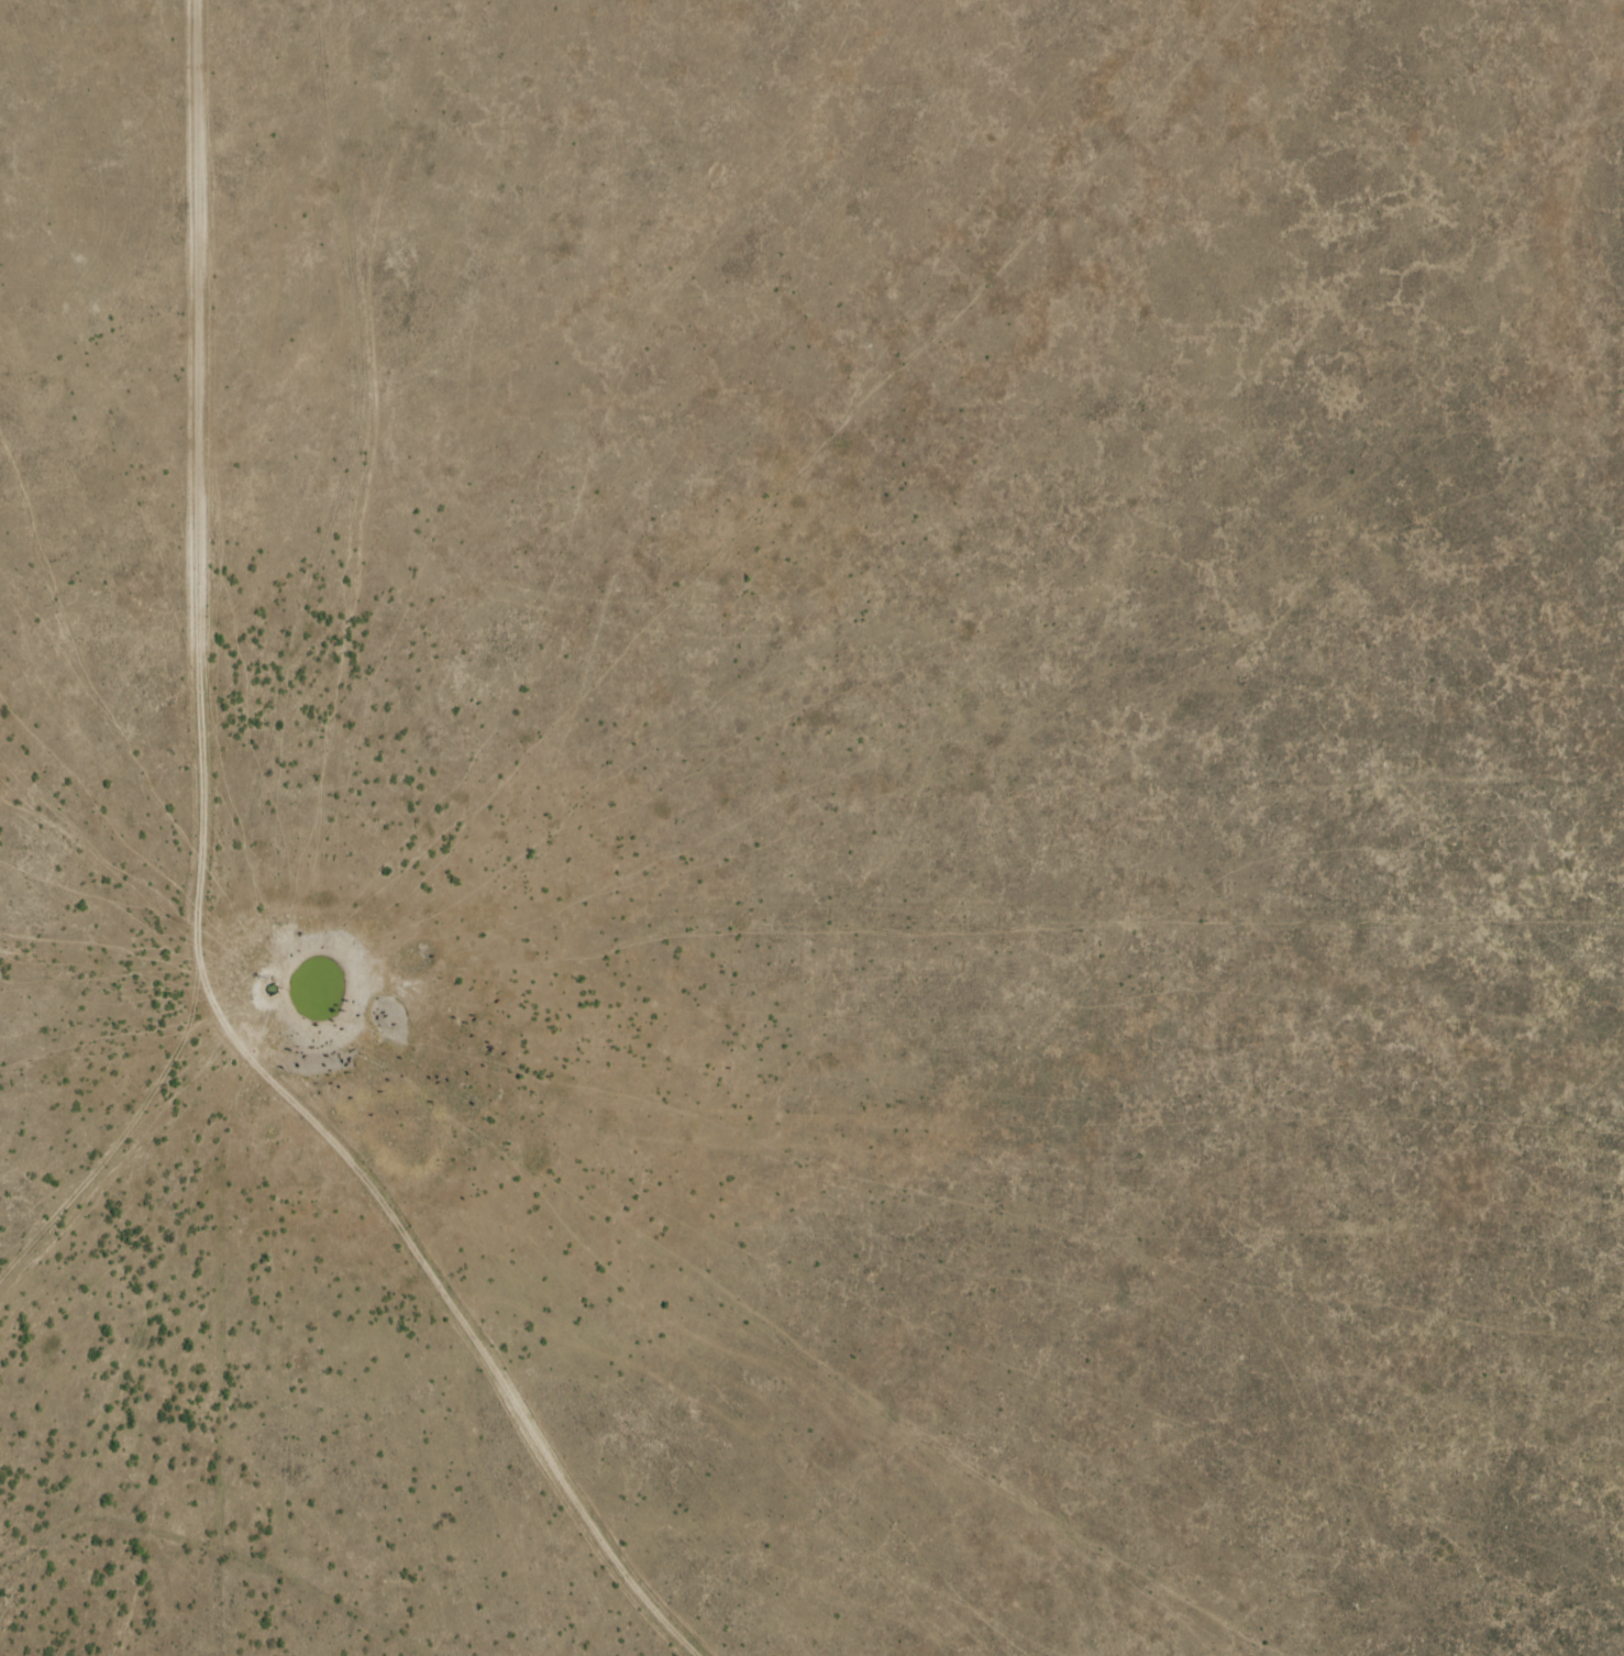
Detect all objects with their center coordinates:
road: (211, 678)

